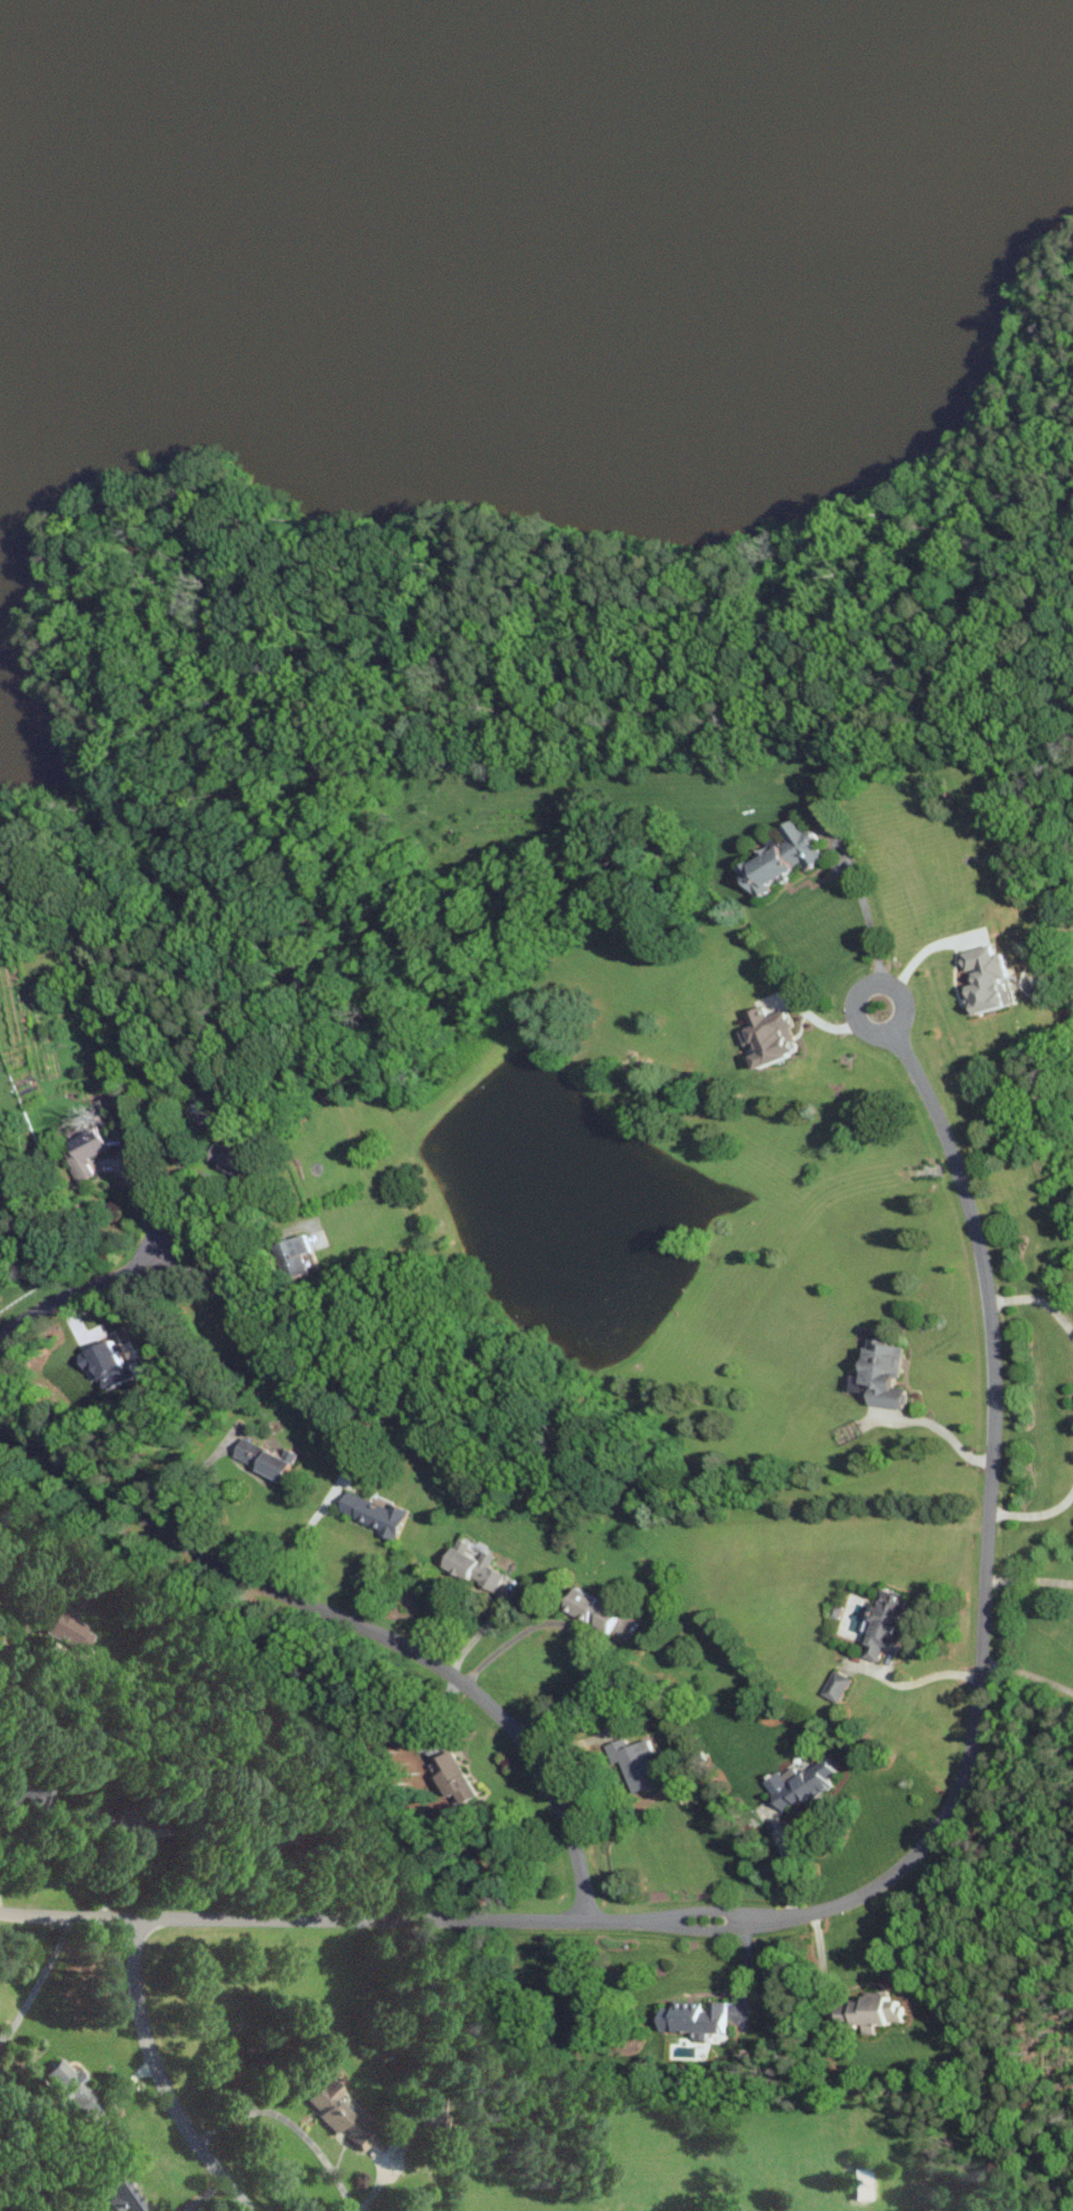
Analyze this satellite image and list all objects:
road: (404, 546)
road: (463, 646)
building: (785, 856)
road: (872, 939)
road: (910, 966)
building: (990, 980)
building: (91, 1149)
building: (242, 1159)
road: (178, 1168)
building: (296, 1252)
road: (228, 1258)
road: (78, 1292)
road: (1038, 1301)
building: (106, 1364)
building: (882, 1374)
road: (933, 1424)
building: (264, 1459)
road: (24, 1473)
road: (186, 1479)
building: (374, 1513)
road: (1035, 1514)
road: (298, 1537)
building: (475, 1565)
road: (1028, 1580)
road: (982, 1599)
building: (595, 1608)
road: (347, 1623)
building: (887, 1624)
building: (71, 1628)
road: (479, 1632)
road: (580, 1633)
road: (1026, 1672)
road: (922, 1679)
building: (837, 1686)
building: (634, 1763)
building: (454, 1780)
building: (800, 1784)
building: (120, 1820)
road: (783, 1860)
road: (10, 1861)
road: (248, 1916)
road: (543, 1919)
road: (821, 1966)
road: (743, 1973)
road: (40, 1985)
building: (880, 2011)
building: (698, 2021)
road: (163, 2074)
building: (76, 2085)
building: (342, 2113)
road: (296, 2121)
building: (124, 2191)

